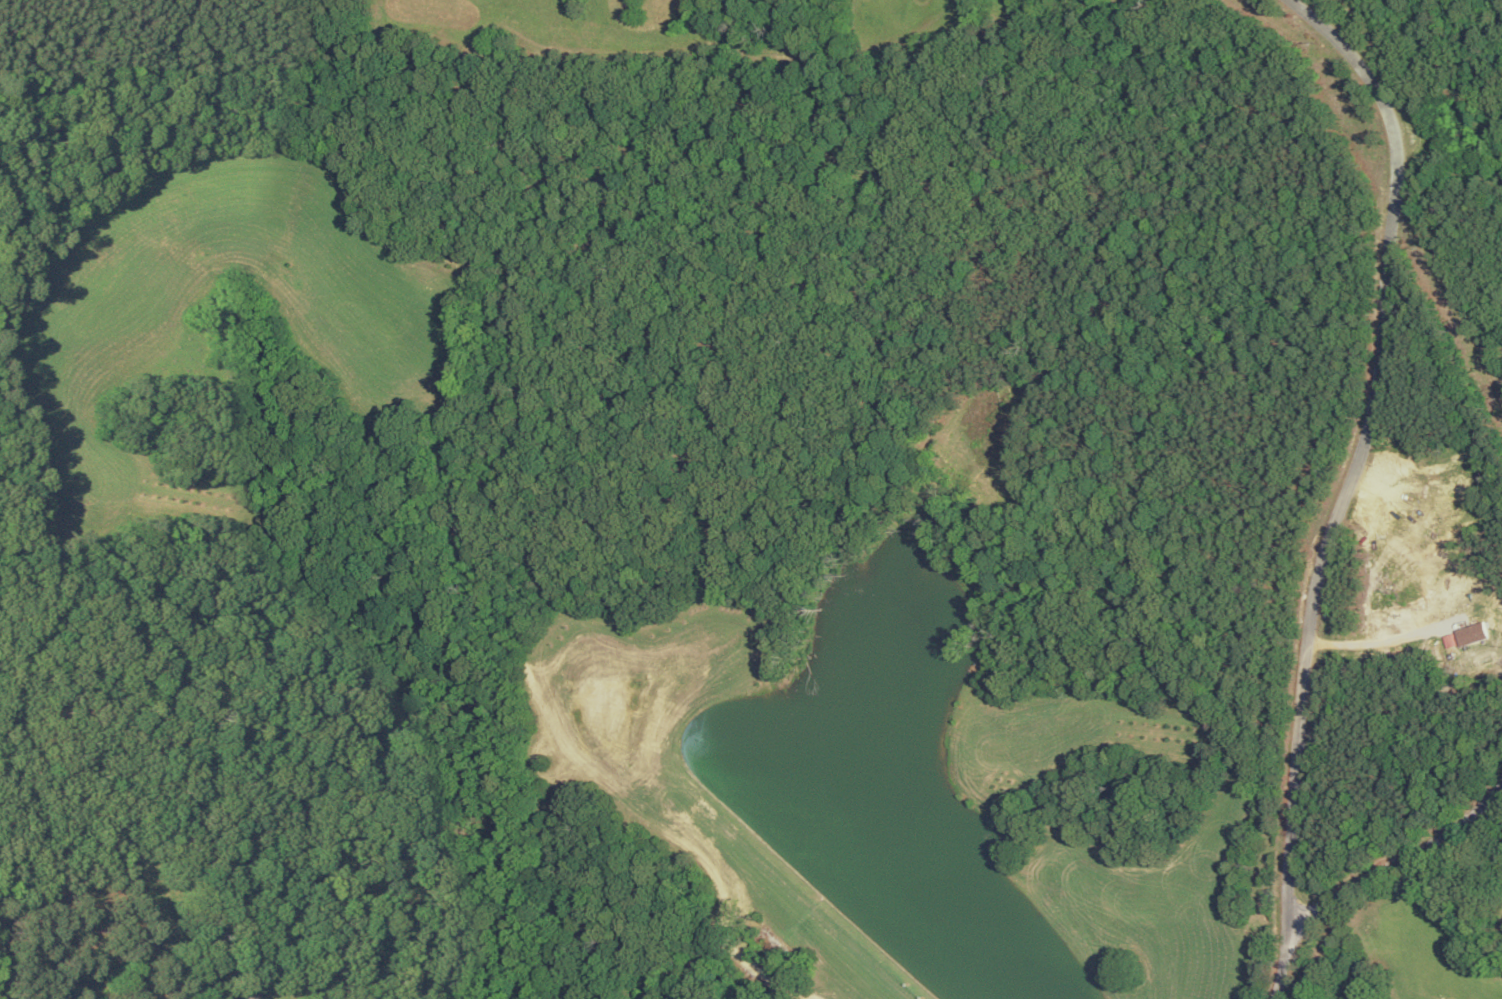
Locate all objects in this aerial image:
road: (1351, 481)
road: (1397, 858)

